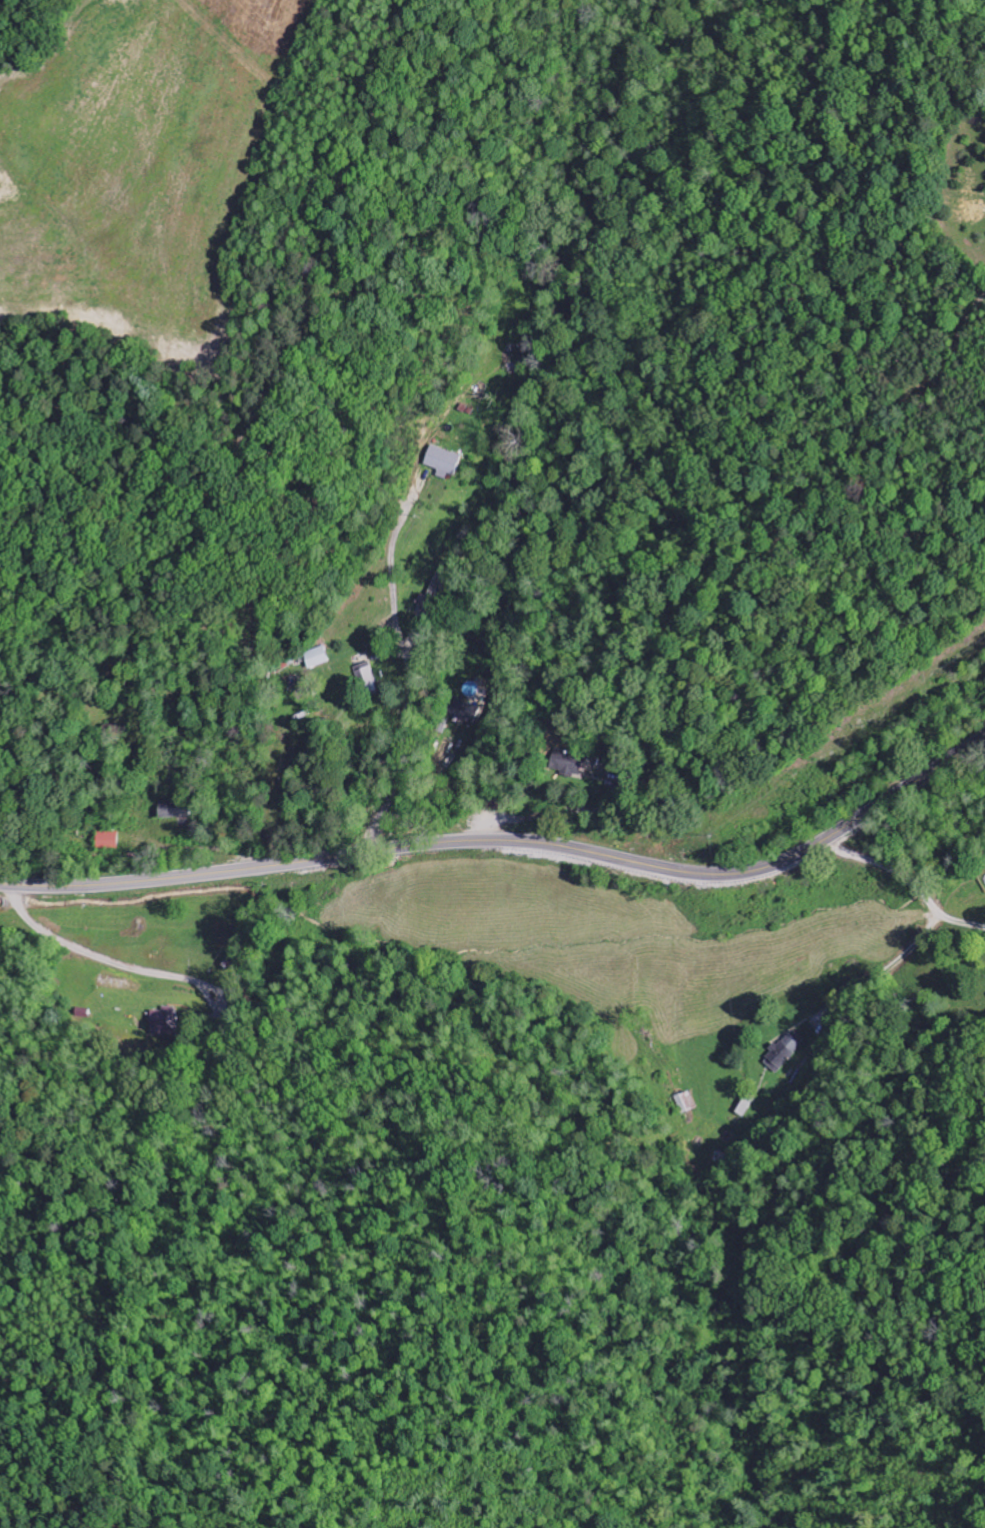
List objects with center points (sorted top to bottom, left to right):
building: (444, 462)
building: (317, 658)
building: (368, 679)
road: (407, 716)
building: (569, 764)
building: (175, 810)
building: (109, 841)
road: (510, 841)
building: (784, 1052)
building: (686, 1102)
building: (745, 1106)

